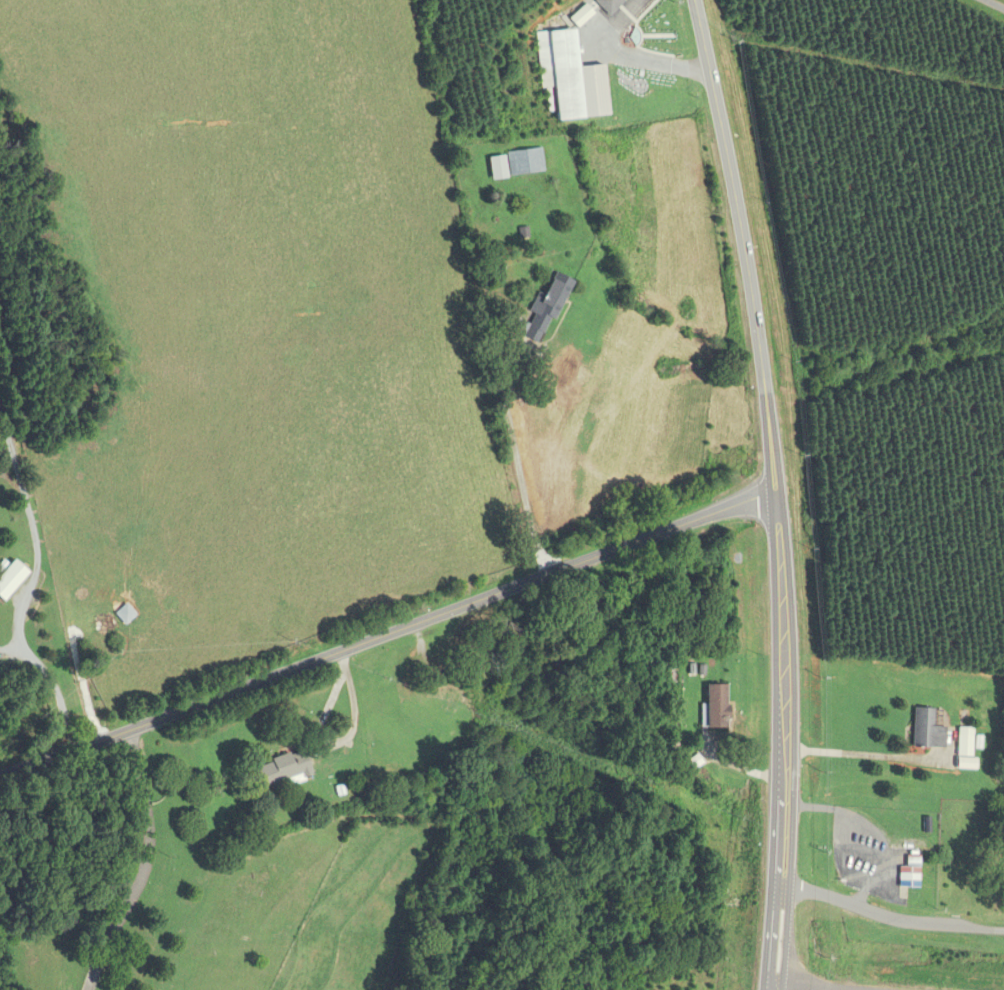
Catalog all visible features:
road: (1003, 0)
building: (605, 5)
building: (578, 16)
road: (629, 55)
building: (567, 78)
building: (541, 309)
road: (769, 444)
road: (518, 467)
road: (27, 591)
building: (126, 615)
road: (387, 634)
building: (459, 684)
building: (717, 705)
building: (924, 731)
road: (871, 753)
building: (284, 769)
road: (143, 865)
building: (1001, 872)
building: (910, 873)
road: (890, 920)
road: (769, 940)
road: (788, 941)

